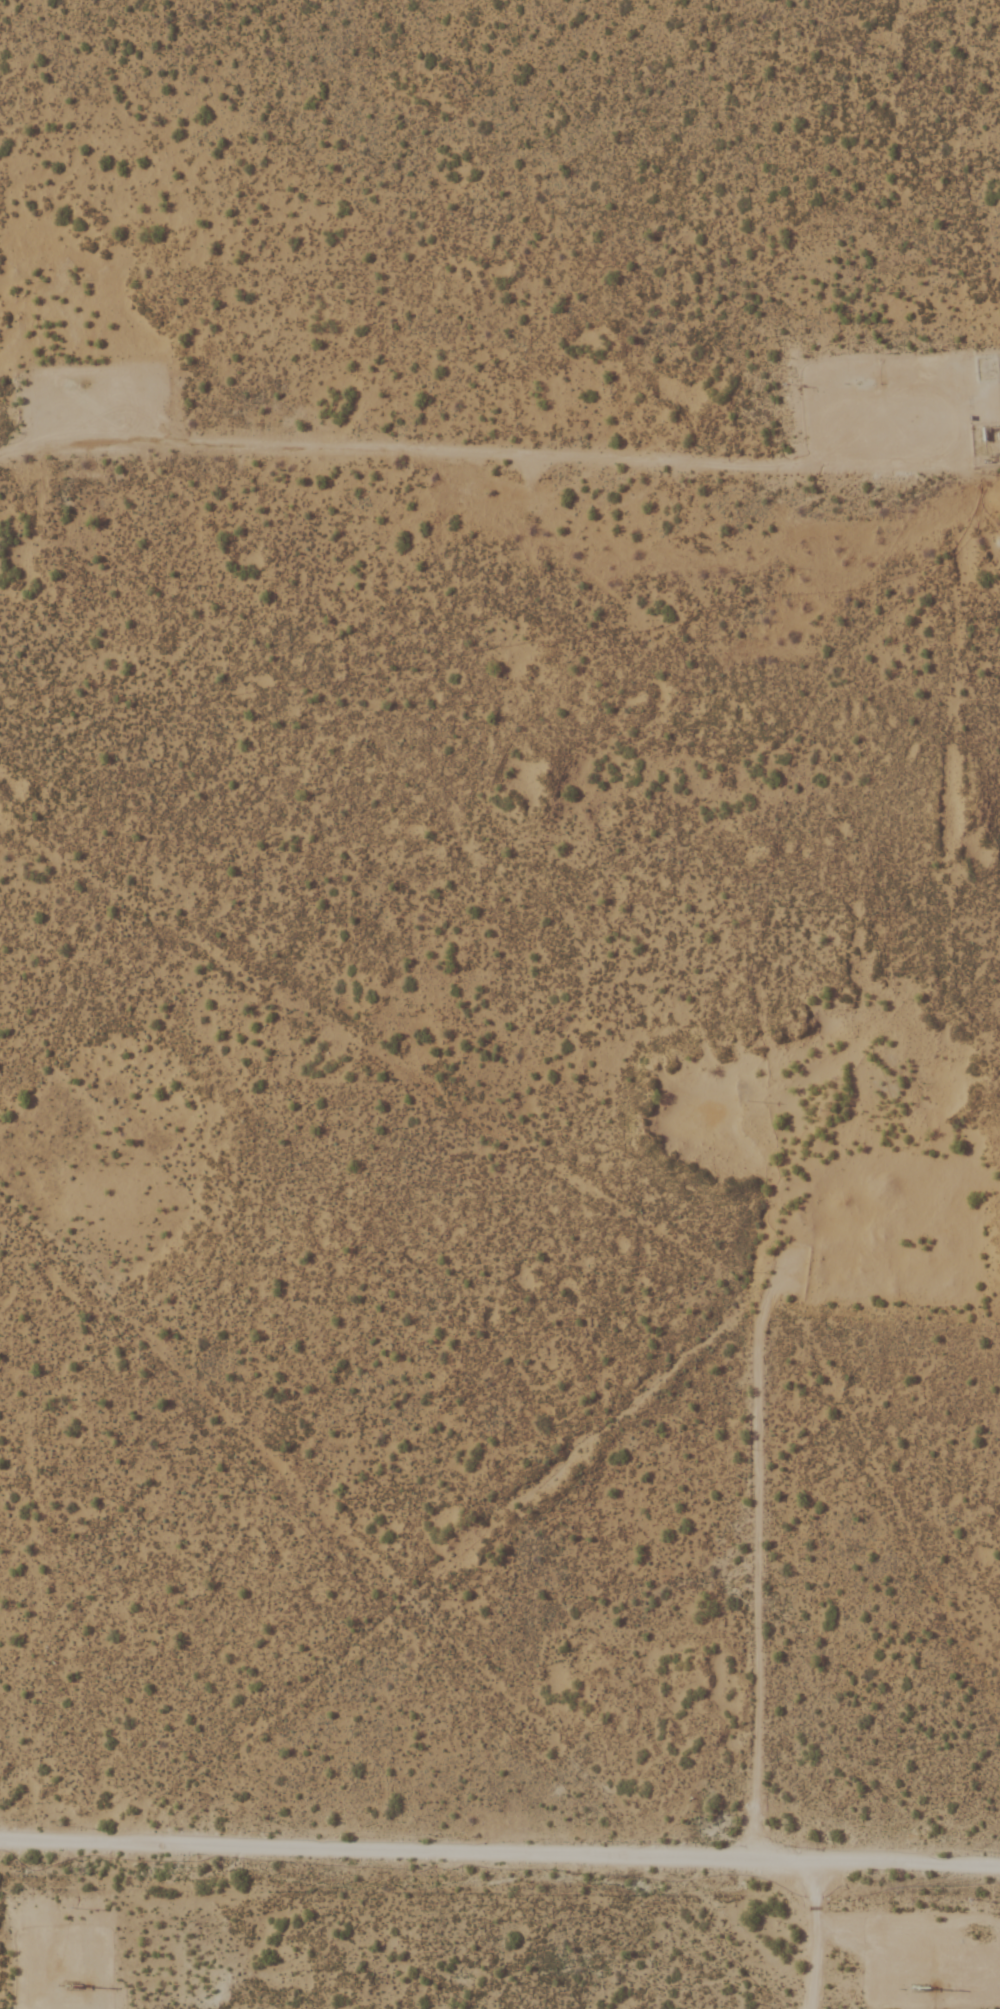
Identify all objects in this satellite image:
petroleum well: (879, 382)
petroleum well: (87, 384)
road: (422, 450)
road: (752, 1574)
road: (499, 1850)
road: (818, 1933)
road: (31, 1978)
petroleum well: (911, 1978)
petroleum well: (68, 1983)

